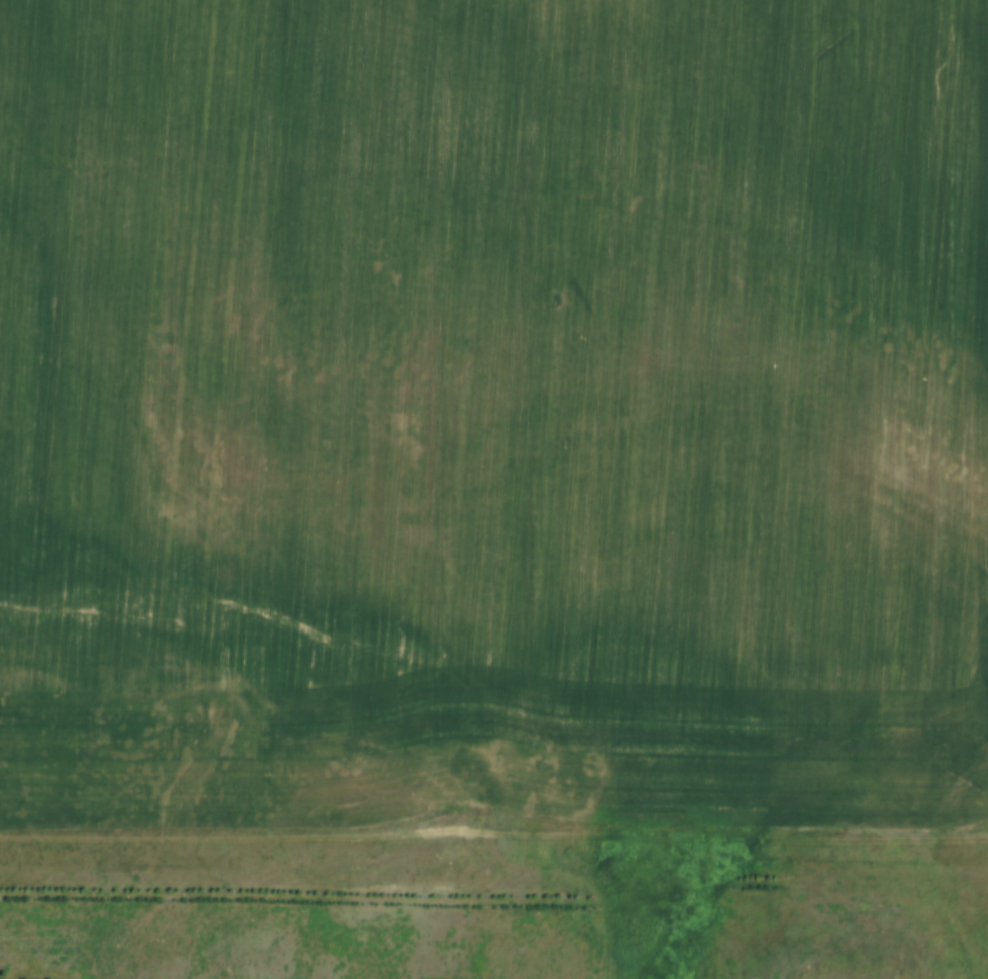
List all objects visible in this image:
road: (494, 843)

